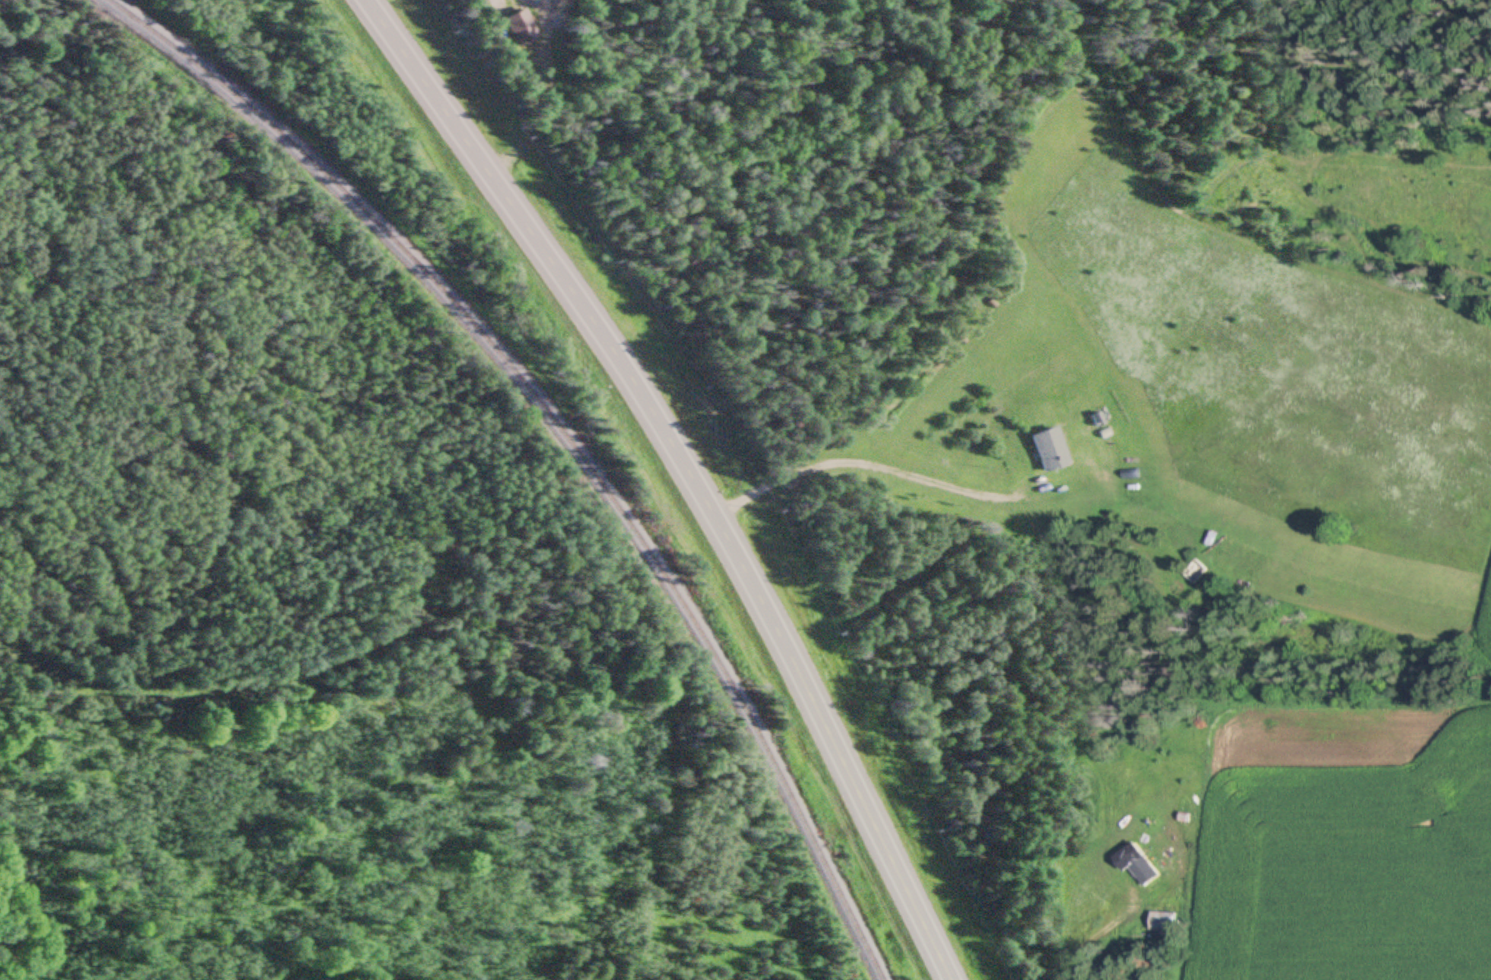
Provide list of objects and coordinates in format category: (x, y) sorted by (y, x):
railway: (557, 435)
building: (1046, 449)
road: (690, 471)
building: (1140, 866)
building: (1162, 922)

